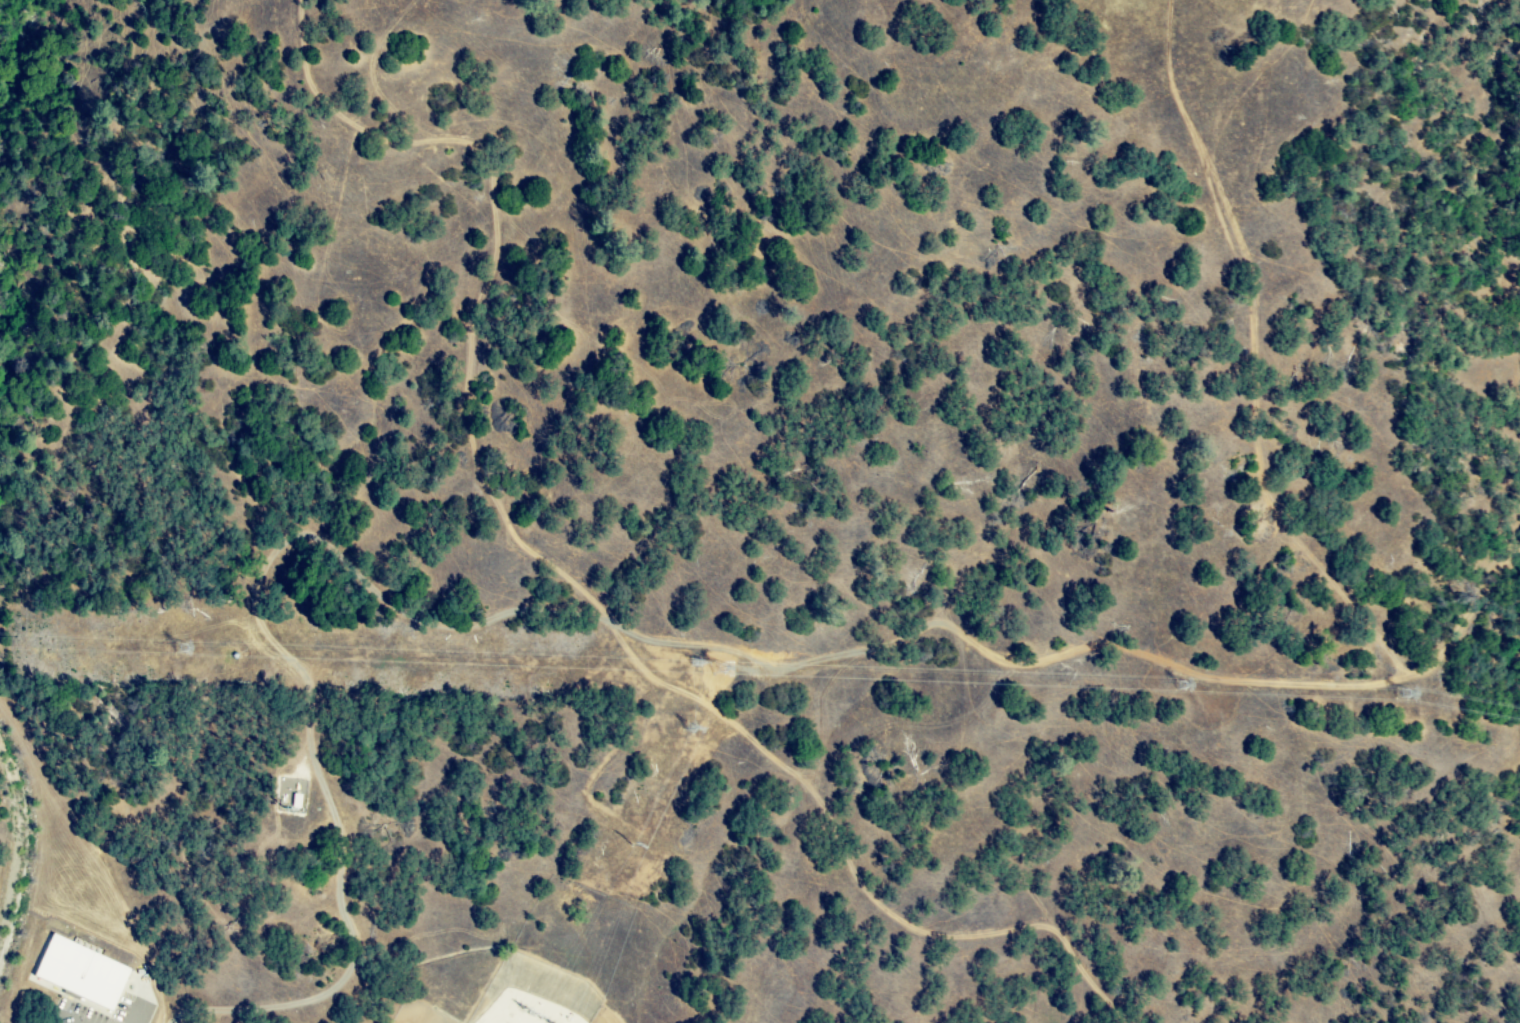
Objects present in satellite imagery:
road: (1259, 354)
power tower: (183, 641)
road: (662, 643)
power tower: (719, 672)
power tower: (1188, 695)
power tower: (693, 724)
power tower: (634, 842)
building: (84, 974)
power substation: (536, 996)
power substation: (419, 1011)

